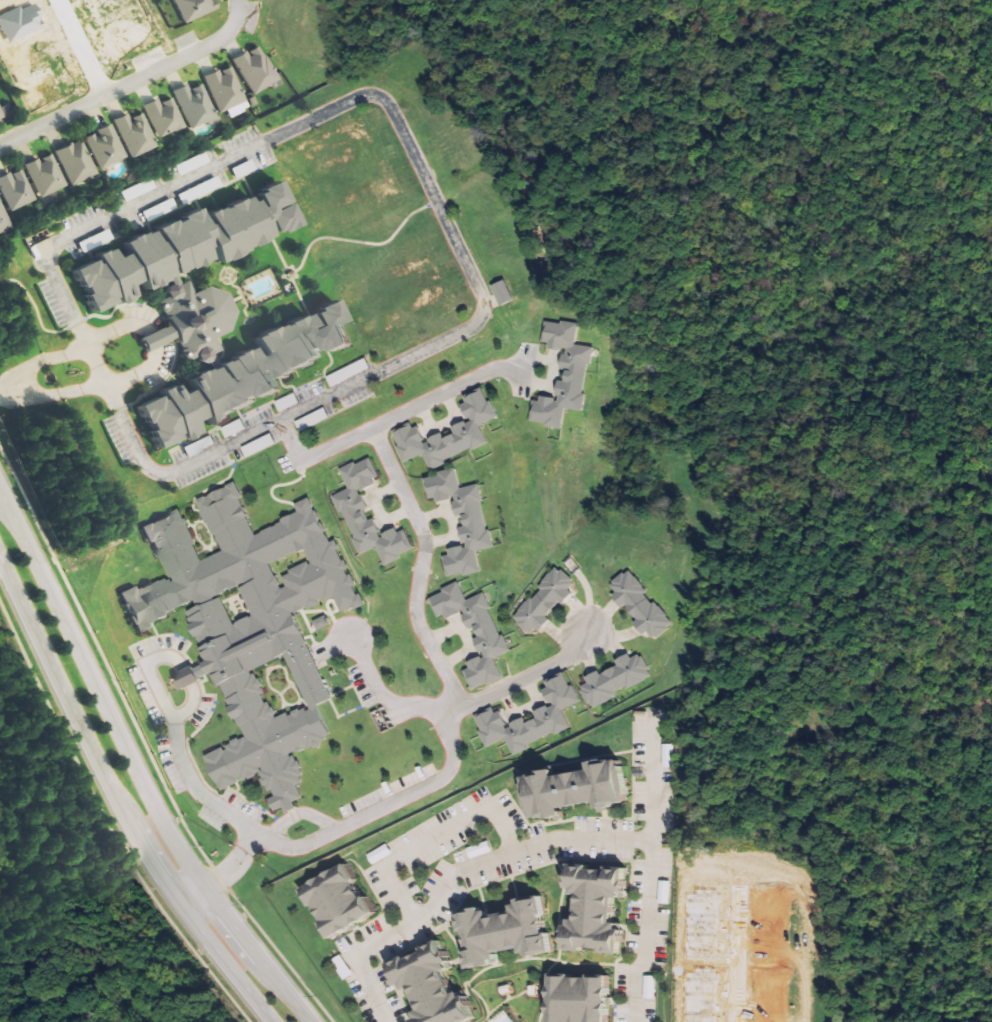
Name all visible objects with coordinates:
building: (194, 8)
building: (256, 70)
road: (130, 82)
building: (226, 92)
building: (195, 106)
building: (5, 113)
building: (164, 118)
building: (136, 135)
road: (272, 137)
building: (106, 148)
building: (77, 163)
building: (193, 164)
building: (46, 176)
building: (16, 190)
building: (4, 221)
building: (174, 247)
building: (507, 293)
building: (193, 319)
building: (153, 337)
road: (95, 339)
road: (151, 339)
road: (96, 366)
road: (26, 369)
building: (574, 375)
building: (237, 377)
road: (115, 382)
road: (10, 389)
road: (445, 391)
road: (36, 396)
road: (298, 410)
building: (465, 429)
road: (408, 507)
building: (350, 511)
building: (471, 521)
building: (541, 601)
building: (638, 605)
building: (324, 623)
building: (248, 625)
building: (487, 635)
road: (149, 670)
road: (186, 676)
building: (187, 676)
road: (516, 680)
building: (612, 680)
road: (190, 706)
building: (548, 714)
building: (672, 755)
road: (449, 770)
road: (133, 772)
road: (194, 787)
building: (573, 788)
road: (116, 804)
road: (301, 813)
road: (434, 838)
road: (250, 841)
building: (383, 853)
road: (650, 868)
road: (226, 873)
road: (454, 875)
building: (668, 892)
road: (190, 899)
building: (337, 901)
building: (592, 908)
building: (502, 931)
building: (429, 986)
building: (653, 986)
building: (577, 998)

